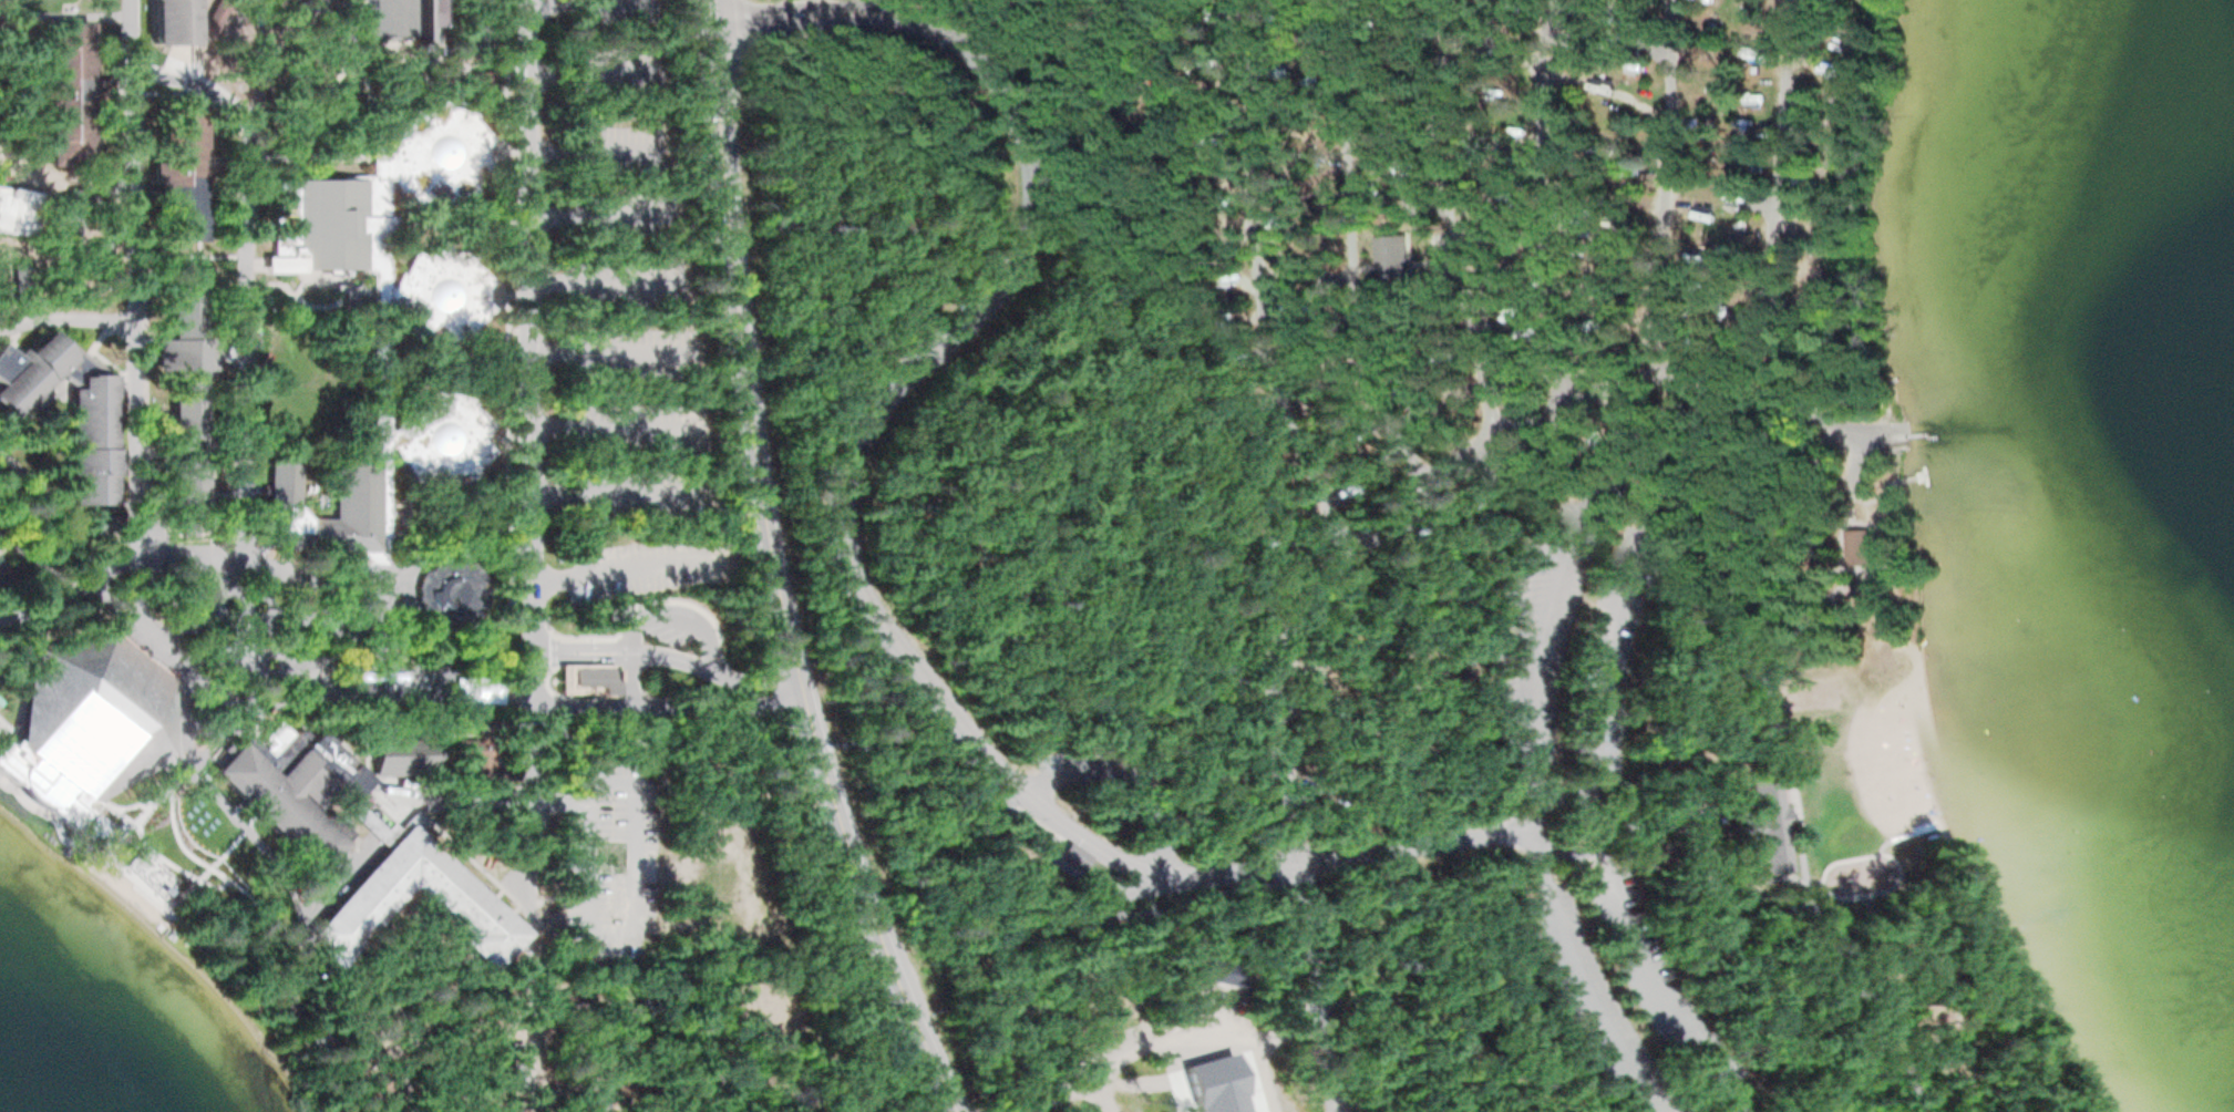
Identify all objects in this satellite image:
road: (78, 9)
road: (573, 10)
parking lot: (604, 16)
building: (401, 18)
building: (169, 21)
building: (208, 24)
road: (418, 53)
road: (255, 65)
road: (585, 76)
parking lot: (612, 81)
building: (64, 91)
road: (373, 93)
road: (311, 106)
parking lot: (619, 143)
road: (586, 146)
building: (434, 148)
road: (310, 155)
building: (176, 168)
road: (1664, 185)
road: (1810, 193)
building: (1698, 199)
building: (92, 200)
road: (1545, 200)
building: (16, 210)
parking lot: (632, 214)
road: (595, 215)
road: (1772, 216)
road: (1449, 217)
road: (457, 222)
building: (71, 224)
building: (326, 226)
road: (1352, 250)
road: (1434, 253)
parking lot: (1447, 253)
building: (1390, 254)
road: (193, 255)
road: (1421, 261)
road: (1366, 266)
road: (136, 270)
road: (248, 274)
road: (595, 278)
building: (18, 282)
parking lot: (635, 282)
road: (1258, 284)
road: (292, 291)
building: (443, 291)
road: (68, 319)
road: (599, 349)
parking lot: (628, 350)
building: (183, 352)
road: (1762, 352)
road: (1783, 362)
road: (507, 363)
building: (28, 370)
road: (1613, 387)
building: (381, 390)
road: (612, 425)
parking lot: (648, 430)
building: (441, 435)
building: (86, 437)
building: (357, 484)
building: (182, 490)
road: (1604, 493)
road: (610, 496)
parking lot: (655, 496)
road: (1469, 498)
road: (55, 503)
road: (1512, 506)
road: (452, 524)
road: (533, 540)
road: (842, 542)
building: (1850, 544)
road: (8, 546)
road: (470, 548)
park: (1370, 549)
road: (384, 556)
road: (44, 562)
parking lot: (651, 568)
road: (771, 569)
road: (612, 572)
road: (1703, 573)
road: (93, 581)
building: (452, 589)
road: (1764, 590)
road: (44, 601)
road: (675, 609)
parking lot: (668, 619)
parking lot: (1546, 625)
parking lot: (1610, 630)
road: (1612, 635)
building: (9, 649)
road: (667, 651)
building: (583, 676)
road: (629, 676)
road: (1265, 686)
park: (1828, 686)
road: (668, 703)
building: (84, 722)
road: (1610, 749)
building: (404, 753)
building: (474, 754)
building: (507, 770)
parking lot: (1097, 771)
road: (1122, 775)
building: (298, 789)
road: (466, 797)
road: (223, 802)
building: (1780, 812)
road: (1739, 814)
road: (1804, 815)
road: (1693, 821)
road: (1605, 822)
building: (107, 830)
building: (1071, 853)
parking lot: (615, 857)
road: (477, 858)
road: (1061, 859)
road: (1747, 863)
road: (203, 873)
road: (1040, 876)
road: (227, 878)
road: (637, 883)
road: (1823, 883)
building: (459, 902)
road: (1821, 916)
building: (1809, 919)
road: (1989, 981)
road: (1664, 985)
road: (1870, 987)
road: (1590, 988)
parking lot: (1669, 988)
parking lot: (1605, 1007)
building: (1126, 1083)
building: (1218, 1087)

